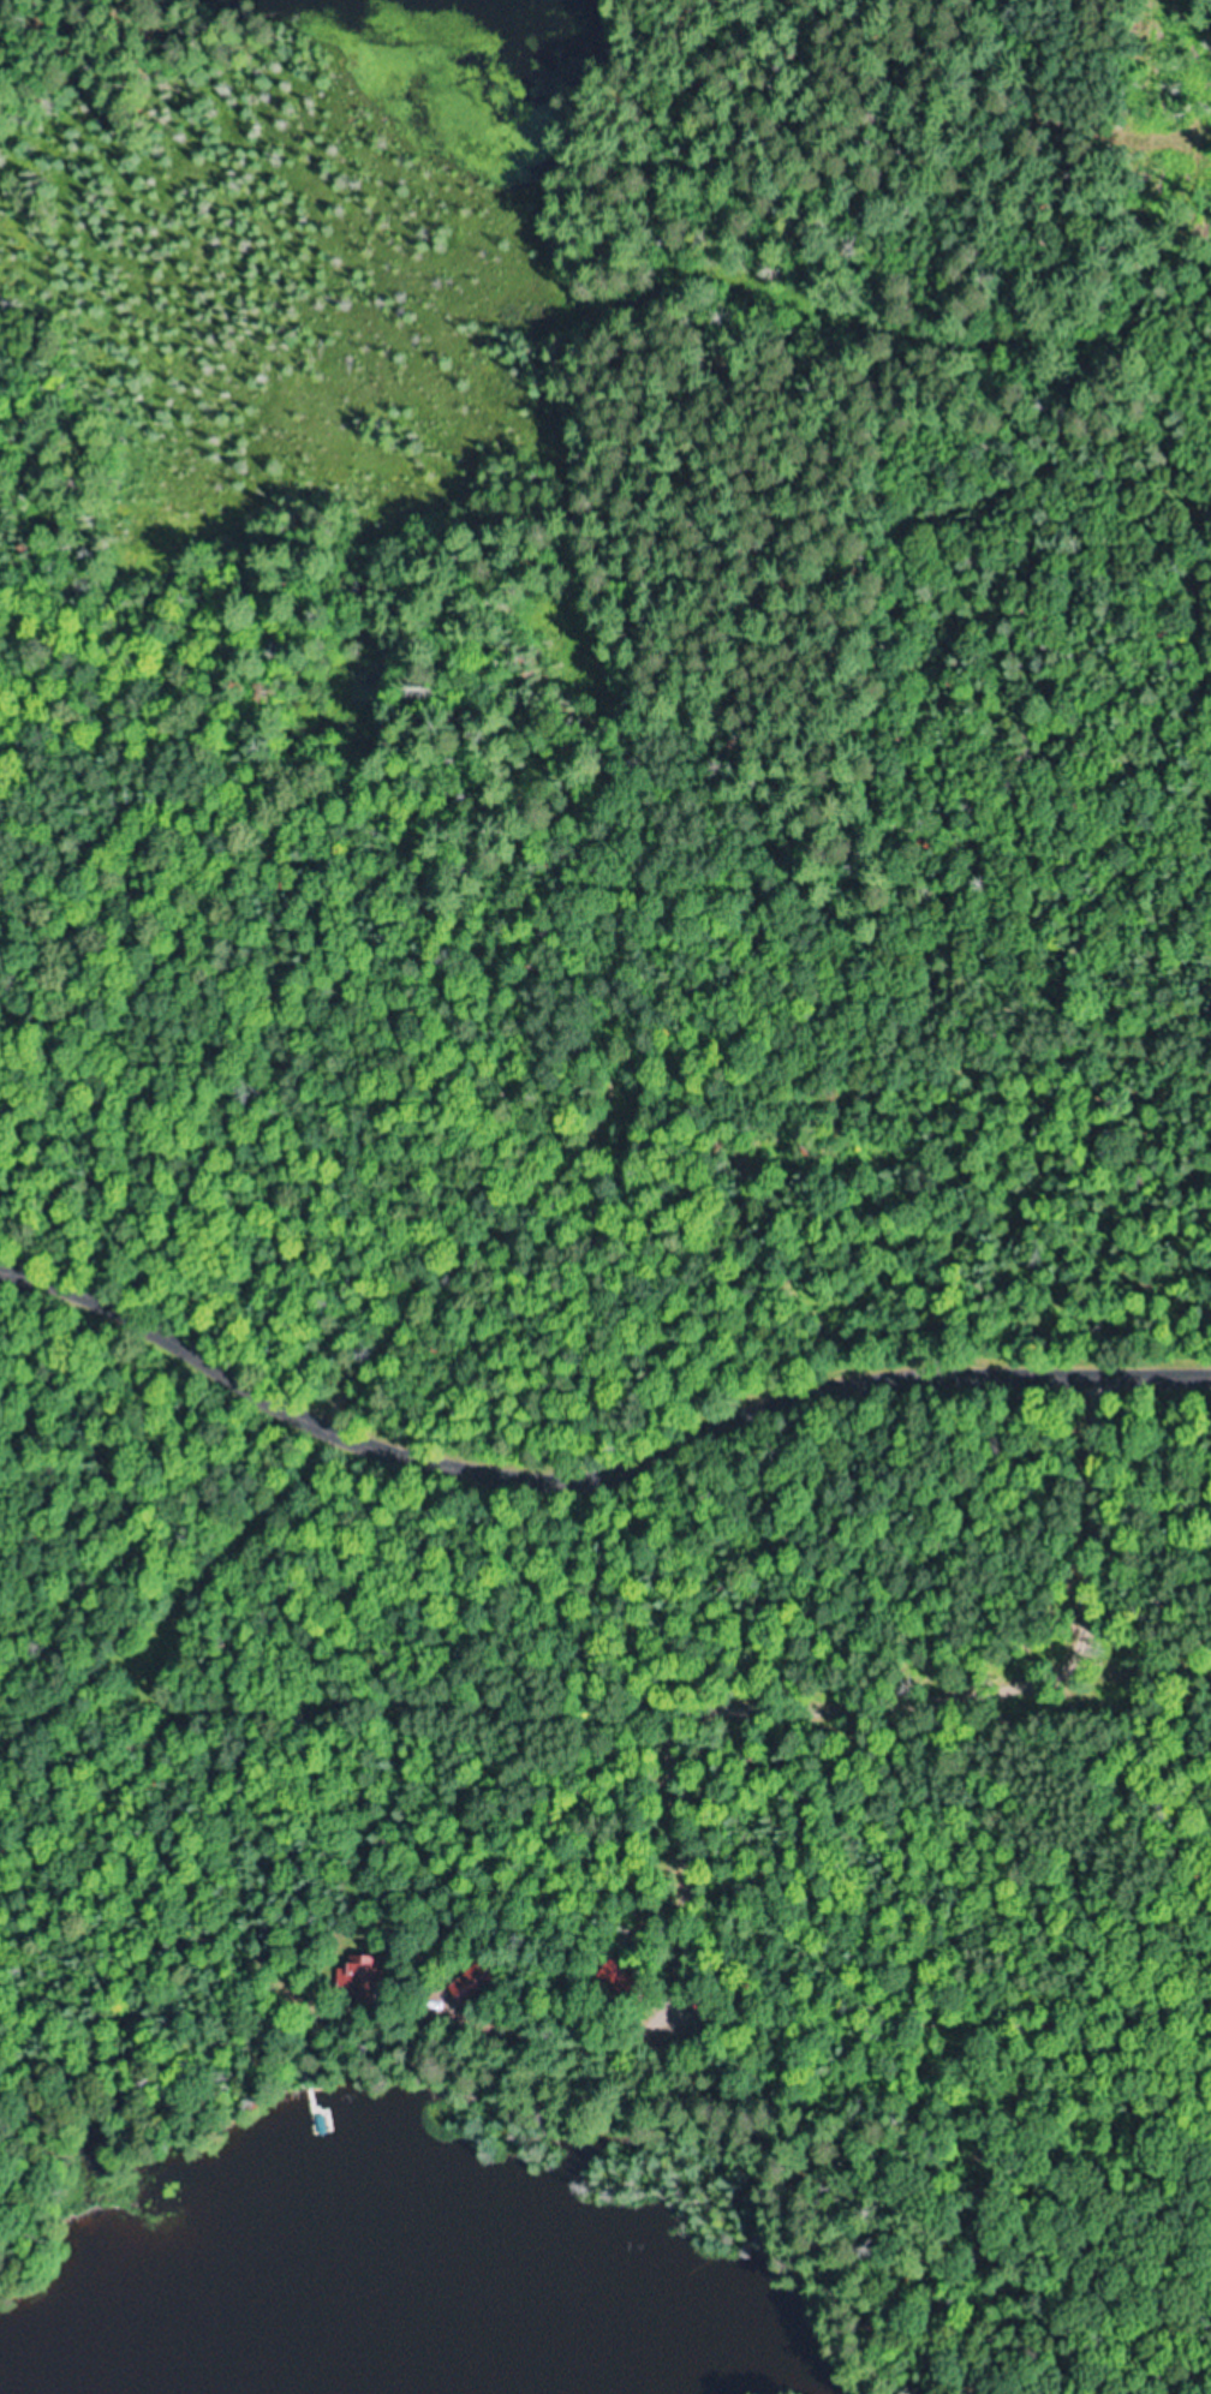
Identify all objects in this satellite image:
road: (724, 727)
road: (126, 1355)
road: (714, 1421)
road: (909, 1804)

